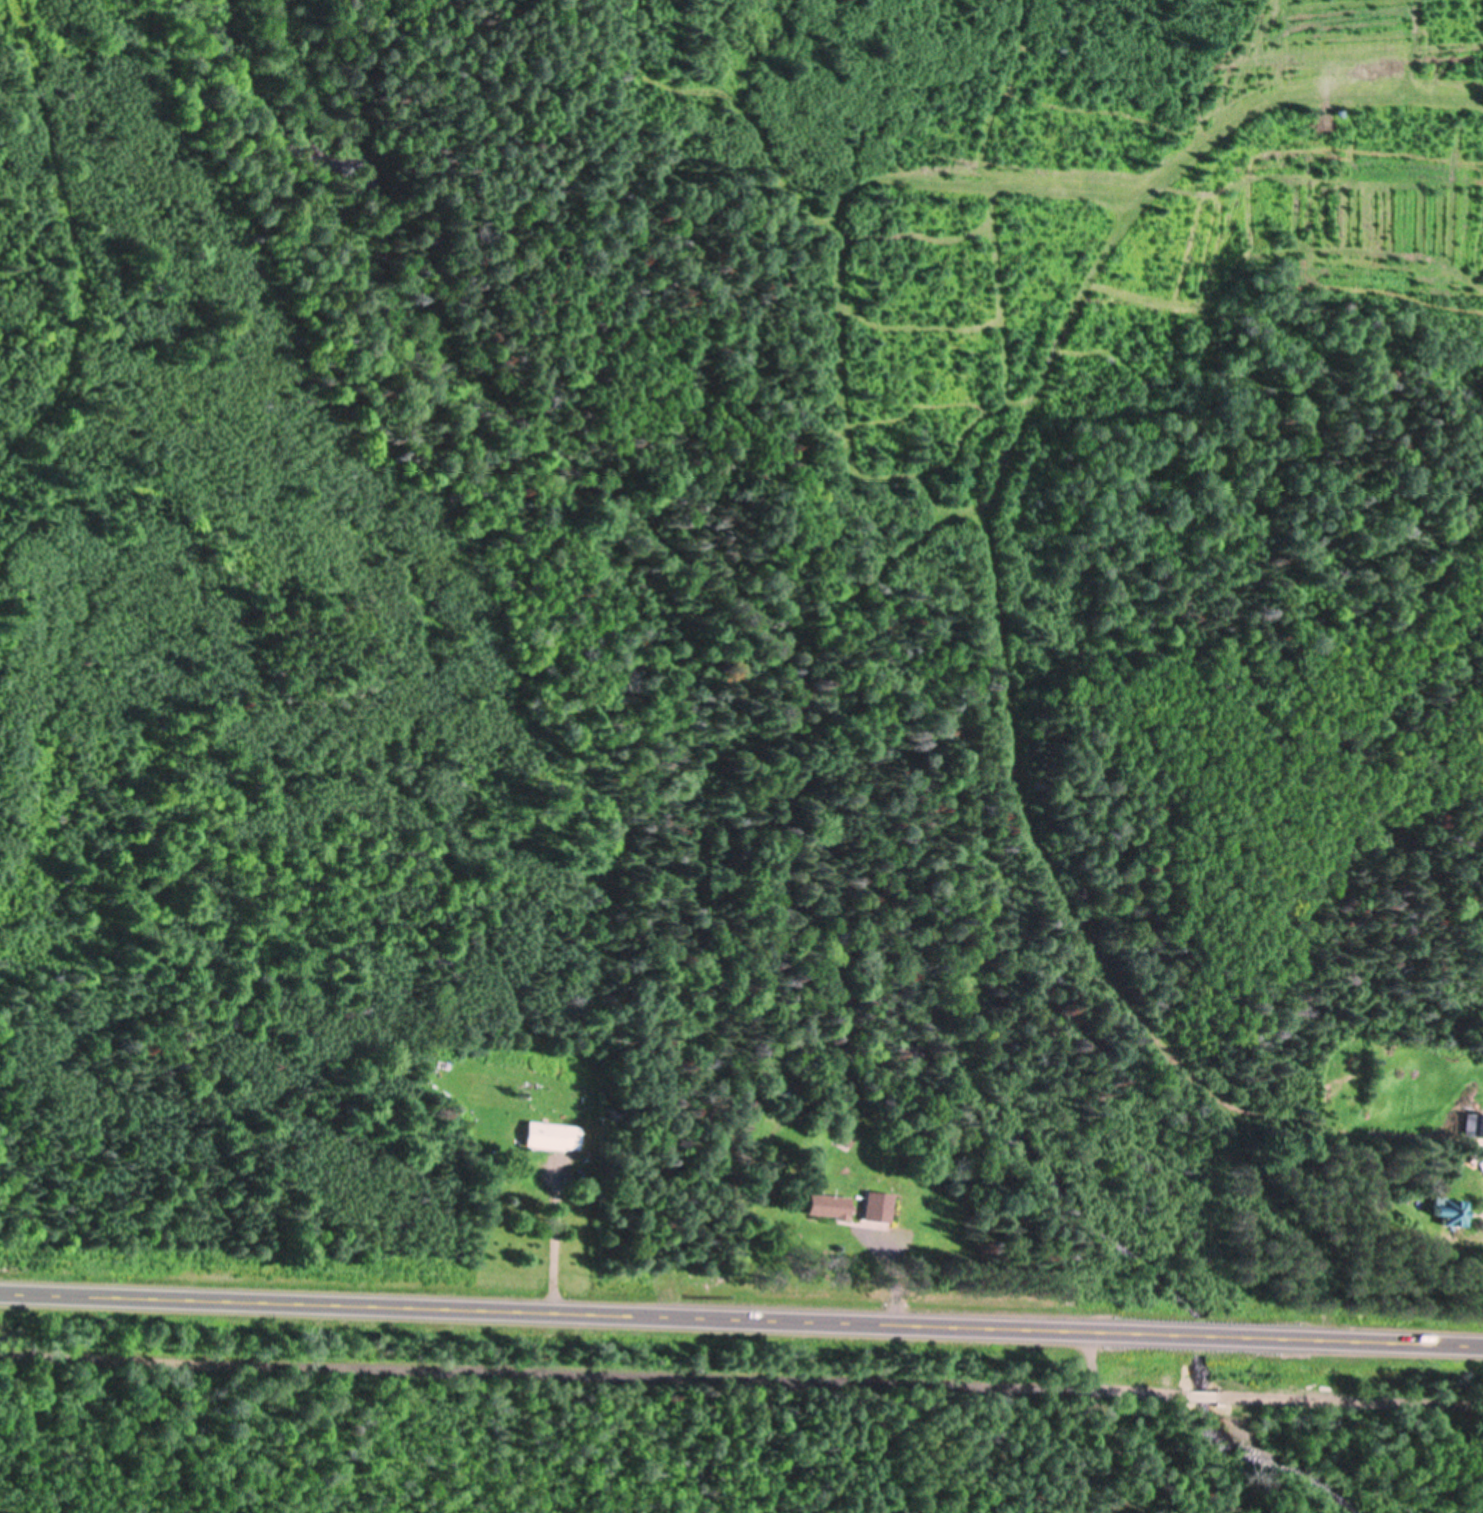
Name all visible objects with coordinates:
building: (1475, 1123)
building: (555, 1134)
building: (831, 1204)
building: (880, 1205)
building: (1455, 1213)
road: (741, 1317)
road: (741, 1378)

